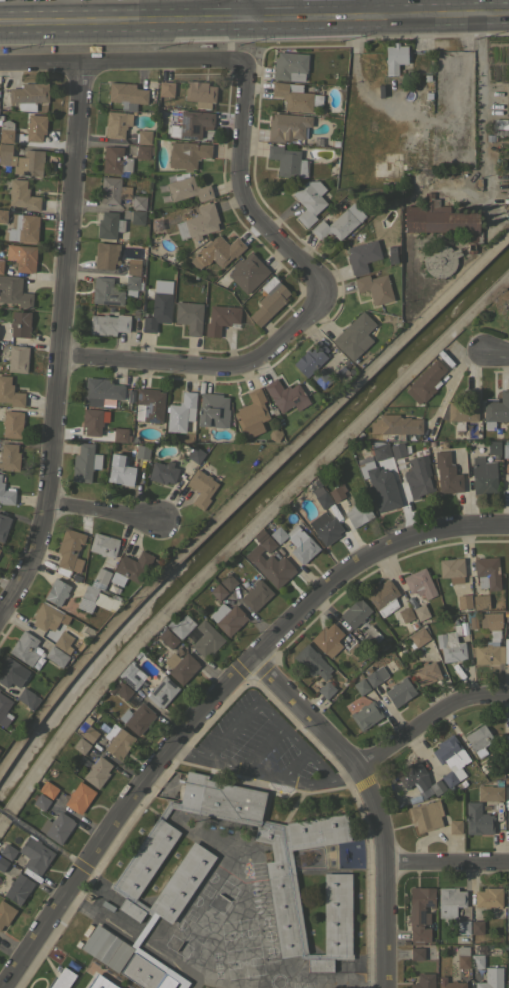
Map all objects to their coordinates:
road: (479, 0)
road: (366, 1)
road: (437, 1)
road: (285, 2)
road: (61, 5)
road: (183, 7)
road: (480, 11)
road: (244, 13)
road: (368, 13)
road: (494, 21)
road: (240, 28)
building: (394, 58)
road: (120, 62)
building: (289, 66)
building: (165, 88)
building: (200, 93)
building: (29, 95)
building: (126, 95)
building: (295, 96)
building: (507, 104)
building: (2, 106)
building: (117, 124)
building: (191, 124)
road: (480, 124)
building: (287, 126)
building: (35, 127)
building: (500, 127)
building: (6, 131)
building: (143, 136)
building: (334, 142)
building: (142, 151)
building: (187, 154)
building: (22, 160)
building: (116, 160)
building: (287, 161)
building: (379, 169)
building: (188, 189)
building: (113, 190)
road: (243, 192)
building: (22, 195)
building: (309, 200)
building: (138, 202)
building: (3, 215)
building: (137, 216)
building: (441, 219)
building: (198, 222)
building: (339, 223)
building: (109, 225)
building: (22, 228)
building: (216, 251)
building: (105, 254)
building: (362, 255)
building: (25, 258)
building: (439, 259)
building: (1, 261)
building: (133, 267)
building: (247, 272)
building: (223, 280)
building: (132, 285)
building: (375, 287)
building: (13, 291)
building: (105, 291)
building: (269, 300)
building: (148, 301)
building: (158, 307)
building: (135, 313)
building: (189, 316)
building: (220, 319)
building: (20, 324)
building: (109, 324)
building: (354, 336)
road: (63, 347)
road: (494, 357)
building: (17, 358)
building: (311, 358)
road: (210, 363)
building: (321, 378)
building: (425, 382)
building: (101, 390)
building: (10, 393)
building: (286, 395)
building: (130, 396)
road: (443, 398)
building: (149, 405)
building: (464, 409)
building: (496, 409)
building: (212, 410)
building: (181, 412)
building: (251, 413)
building: (91, 420)
building: (12, 424)
building: (396, 426)
building: (120, 434)
building: (201, 434)
building: (431, 442)
building: (443, 443)
building: (493, 447)
building: (380, 450)
building: (397, 450)
building: (505, 450)
building: (143, 452)
building: (195, 454)
building: (9, 457)
building: (85, 462)
building: (121, 469)
building: (162, 472)
building: (447, 473)
building: (0, 475)
building: (483, 475)
building: (418, 476)
building: (508, 478)
building: (380, 485)
building: (201, 487)
building: (337, 492)
building: (6, 495)
building: (323, 499)
road: (104, 509)
building: (358, 514)
building: (3, 525)
building: (325, 527)
building: (264, 540)
building: (296, 540)
building: (104, 544)
building: (69, 551)
road: (364, 559)
building: (508, 560)
building: (130, 567)
building: (273, 568)
building: (452, 569)
building: (487, 572)
building: (75, 577)
building: (100, 578)
building: (508, 580)
building: (228, 581)
building: (419, 583)
building: (218, 591)
building: (60, 594)
building: (256, 595)
building: (383, 597)
building: (97, 600)
building: (411, 600)
building: (463, 601)
building: (481, 601)
building: (355, 612)
building: (421, 612)
building: (506, 612)
building: (404, 614)
building: (45, 616)
building: (507, 617)
building: (227, 618)
building: (473, 620)
building: (491, 623)
building: (413, 624)
building: (180, 625)
building: (506, 626)
building: (463, 627)
building: (419, 636)
building: (48, 637)
building: (167, 638)
building: (206, 638)
building: (370, 638)
building: (327, 639)
building: (62, 642)
building: (351, 645)
building: (451, 645)
building: (24, 648)
building: (506, 650)
building: (488, 653)
building: (56, 656)
building: (312, 662)
building: (180, 666)
building: (11, 672)
building: (426, 672)
building: (131, 675)
building: (375, 675)
building: (361, 686)
building: (326, 689)
building: (123, 691)
building: (161, 691)
building: (399, 691)
building: (135, 696)
building: (28, 698)
building: (131, 700)
building: (4, 710)
building: (90, 710)
road: (270, 711)
building: (366, 715)
building: (137, 718)
road: (424, 718)
building: (86, 730)
building: (479, 739)
building: (117, 741)
building: (80, 745)
road: (263, 747)
road: (329, 750)
building: (450, 759)
building: (83, 760)
road: (294, 764)
building: (485, 766)
building: (71, 768)
building: (97, 771)
road: (260, 773)
building: (418, 778)
building: (47, 789)
building: (490, 792)
building: (506, 792)
building: (411, 794)
building: (79, 797)
building: (41, 801)
road: (5, 813)
building: (425, 815)
road: (121, 817)
building: (477, 819)
building: (507, 822)
building: (455, 826)
building: (56, 827)
road: (48, 843)
building: (7, 851)
building: (34, 854)
road: (445, 856)
building: (2, 863)
building: (131, 878)
building: (17, 888)
building: (488, 897)
building: (449, 901)
building: (507, 903)
building: (106, 904)
building: (5, 912)
building: (420, 913)
road: (382, 921)
building: (462, 926)
building: (508, 926)
building: (476, 927)
building: (416, 953)
building: (463, 957)
building: (476, 960)
building: (491, 978)
building: (62, 979)
road: (338, 979)
building: (423, 981)
building: (449, 983)
building: (95, 984)
building: (507, 984)

